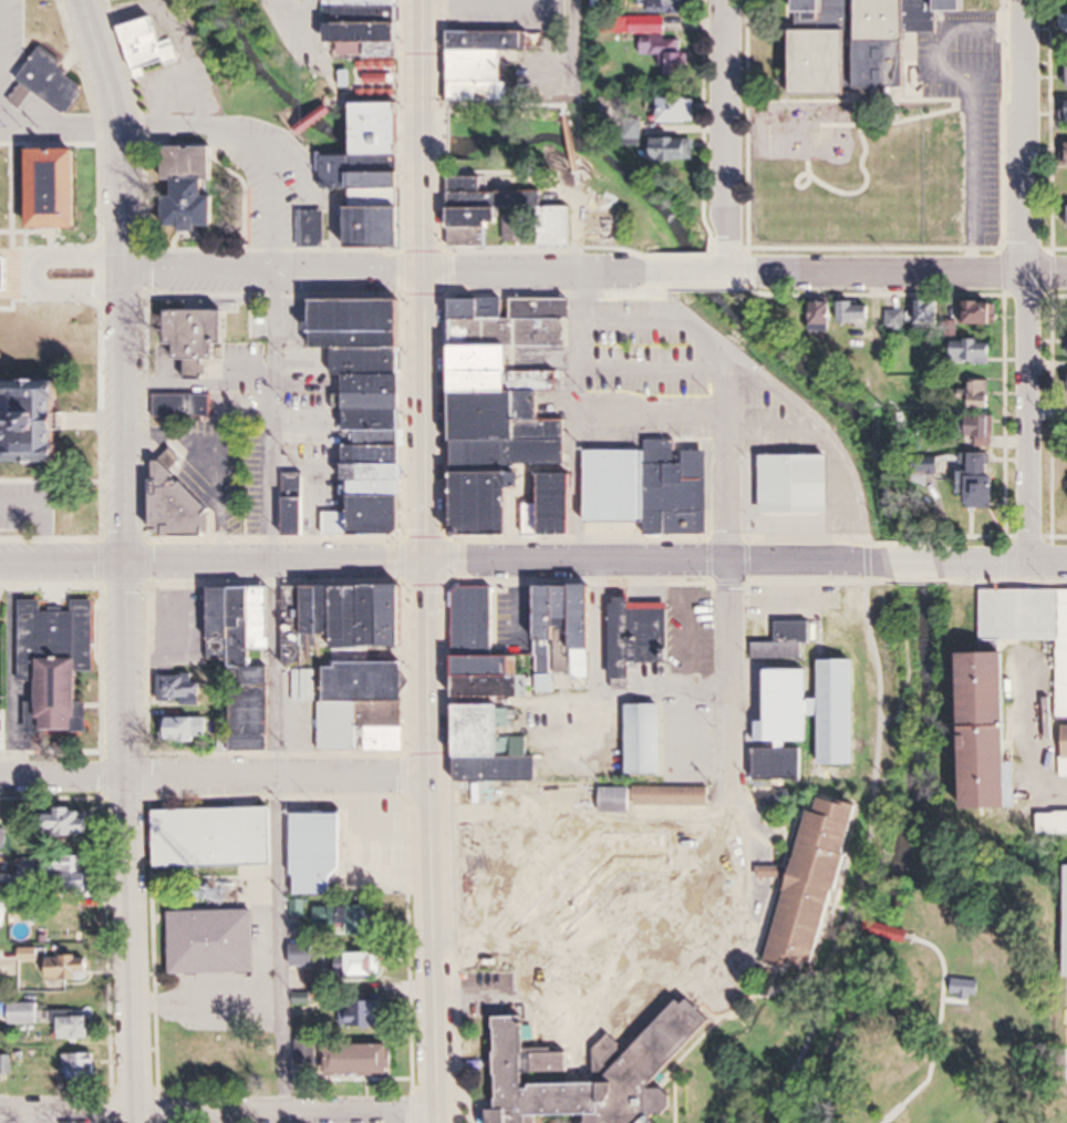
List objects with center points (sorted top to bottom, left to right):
building: (670, 7)
building: (967, 7)
parking lot: (1002, 20)
building: (1066, 23)
road: (321, 24)
building: (373, 33)
building: (897, 40)
building: (657, 43)
building: (151, 47)
road: (573, 47)
road: (940, 47)
building: (828, 48)
road: (1, 61)
building: (487, 64)
parking lot: (4, 76)
building: (52, 85)
road: (453, 106)
building: (678, 112)
parking lot: (972, 114)
building: (1065, 114)
road: (340, 120)
road: (312, 123)
road: (494, 126)
road: (220, 130)
building: (383, 132)
road: (118, 133)
road: (423, 133)
road: (724, 135)
road: (1027, 137)
road: (570, 146)
building: (674, 152)
road: (973, 173)
building: (46, 190)
building: (196, 190)
building: (373, 205)
building: (507, 218)
road: (499, 268)
road: (619, 268)
road: (693, 269)
road: (37, 270)
road: (271, 270)
road: (895, 272)
building: (825, 311)
building: (857, 311)
building: (984, 312)
building: (929, 313)
road: (660, 316)
building: (897, 319)
building: (198, 336)
building: (973, 350)
road: (653, 365)
building: (977, 393)
flagpole: (82, 398)
building: (185, 405)
road: (1047, 408)
building: (374, 409)
road: (653, 410)
building: (8, 412)
building: (510, 414)
road: (576, 414)
road: (1028, 418)
building: (41, 419)
building: (981, 466)
building: (799, 483)
building: (653, 487)
building: (176, 495)
road: (21, 509)
parking lot: (29, 509)
building: (299, 515)
road: (729, 555)
road: (214, 561)
road: (655, 561)
road: (916, 561)
traffic signals: (427, 563)
road: (1007, 563)
road: (870, 589)
building: (348, 617)
building: (476, 617)
building: (570, 620)
building: (1029, 624)
building: (669, 630)
building: (787, 641)
road: (598, 653)
building: (245, 657)
road: (317, 663)
building: (60, 666)
road: (12, 669)
building: (495, 677)
building: (547, 683)
building: (183, 689)
road: (664, 693)
road: (278, 696)
road: (428, 696)
road: (131, 697)
building: (366, 707)
building: (816, 710)
building: (188, 730)
building: (991, 733)
building: (648, 739)
building: (495, 748)
building: (1065, 752)
building: (781, 764)
road: (215, 777)
building: (674, 796)
building: (618, 801)
road: (654, 811)
building: (73, 822)
building: (1054, 824)
building: (216, 837)
building: (2, 838)
road: (470, 849)
building: (655, 852)
building: (319, 853)
road: (550, 855)
building: (68, 870)
building: (717, 873)
building: (819, 885)
building: (346, 919)
building: (215, 941)
road: (726, 941)
building: (30, 955)
building: (310, 955)
building: (367, 964)
building: (71, 967)
road: (473, 990)
road: (556, 995)
park: (962, 998)
building: (23, 1012)
building: (365, 1013)
building: (77, 1024)
building: (362, 1059)
building: (539, 1061)
building: (83, 1067)
road: (218, 1114)

